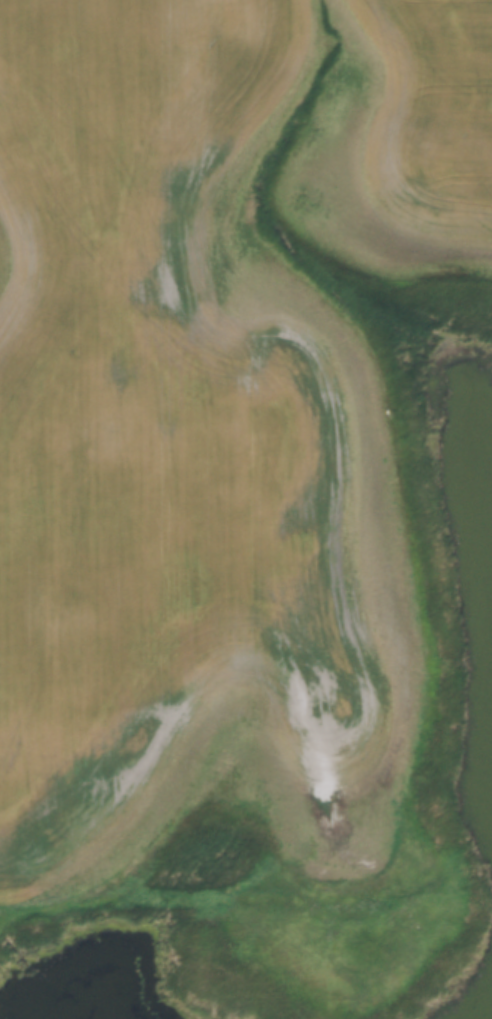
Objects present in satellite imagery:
road: (246, 905)

